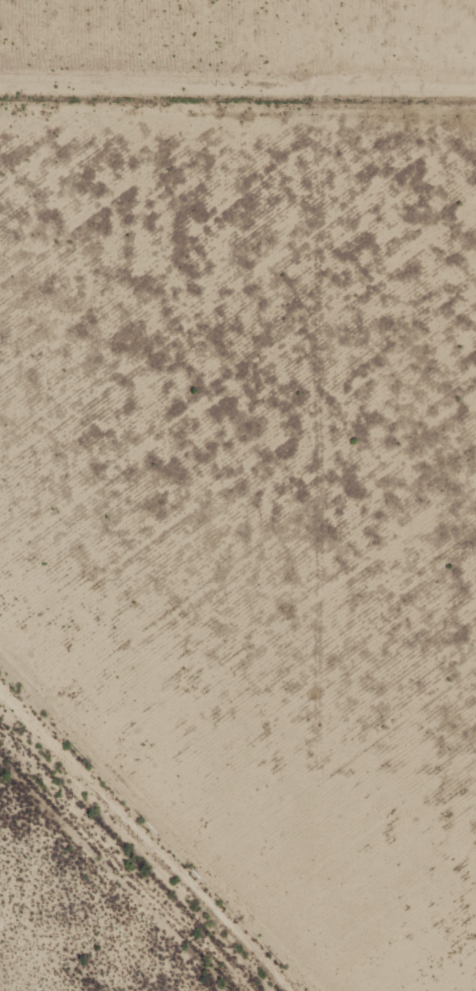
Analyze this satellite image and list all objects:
road: (159, 816)

